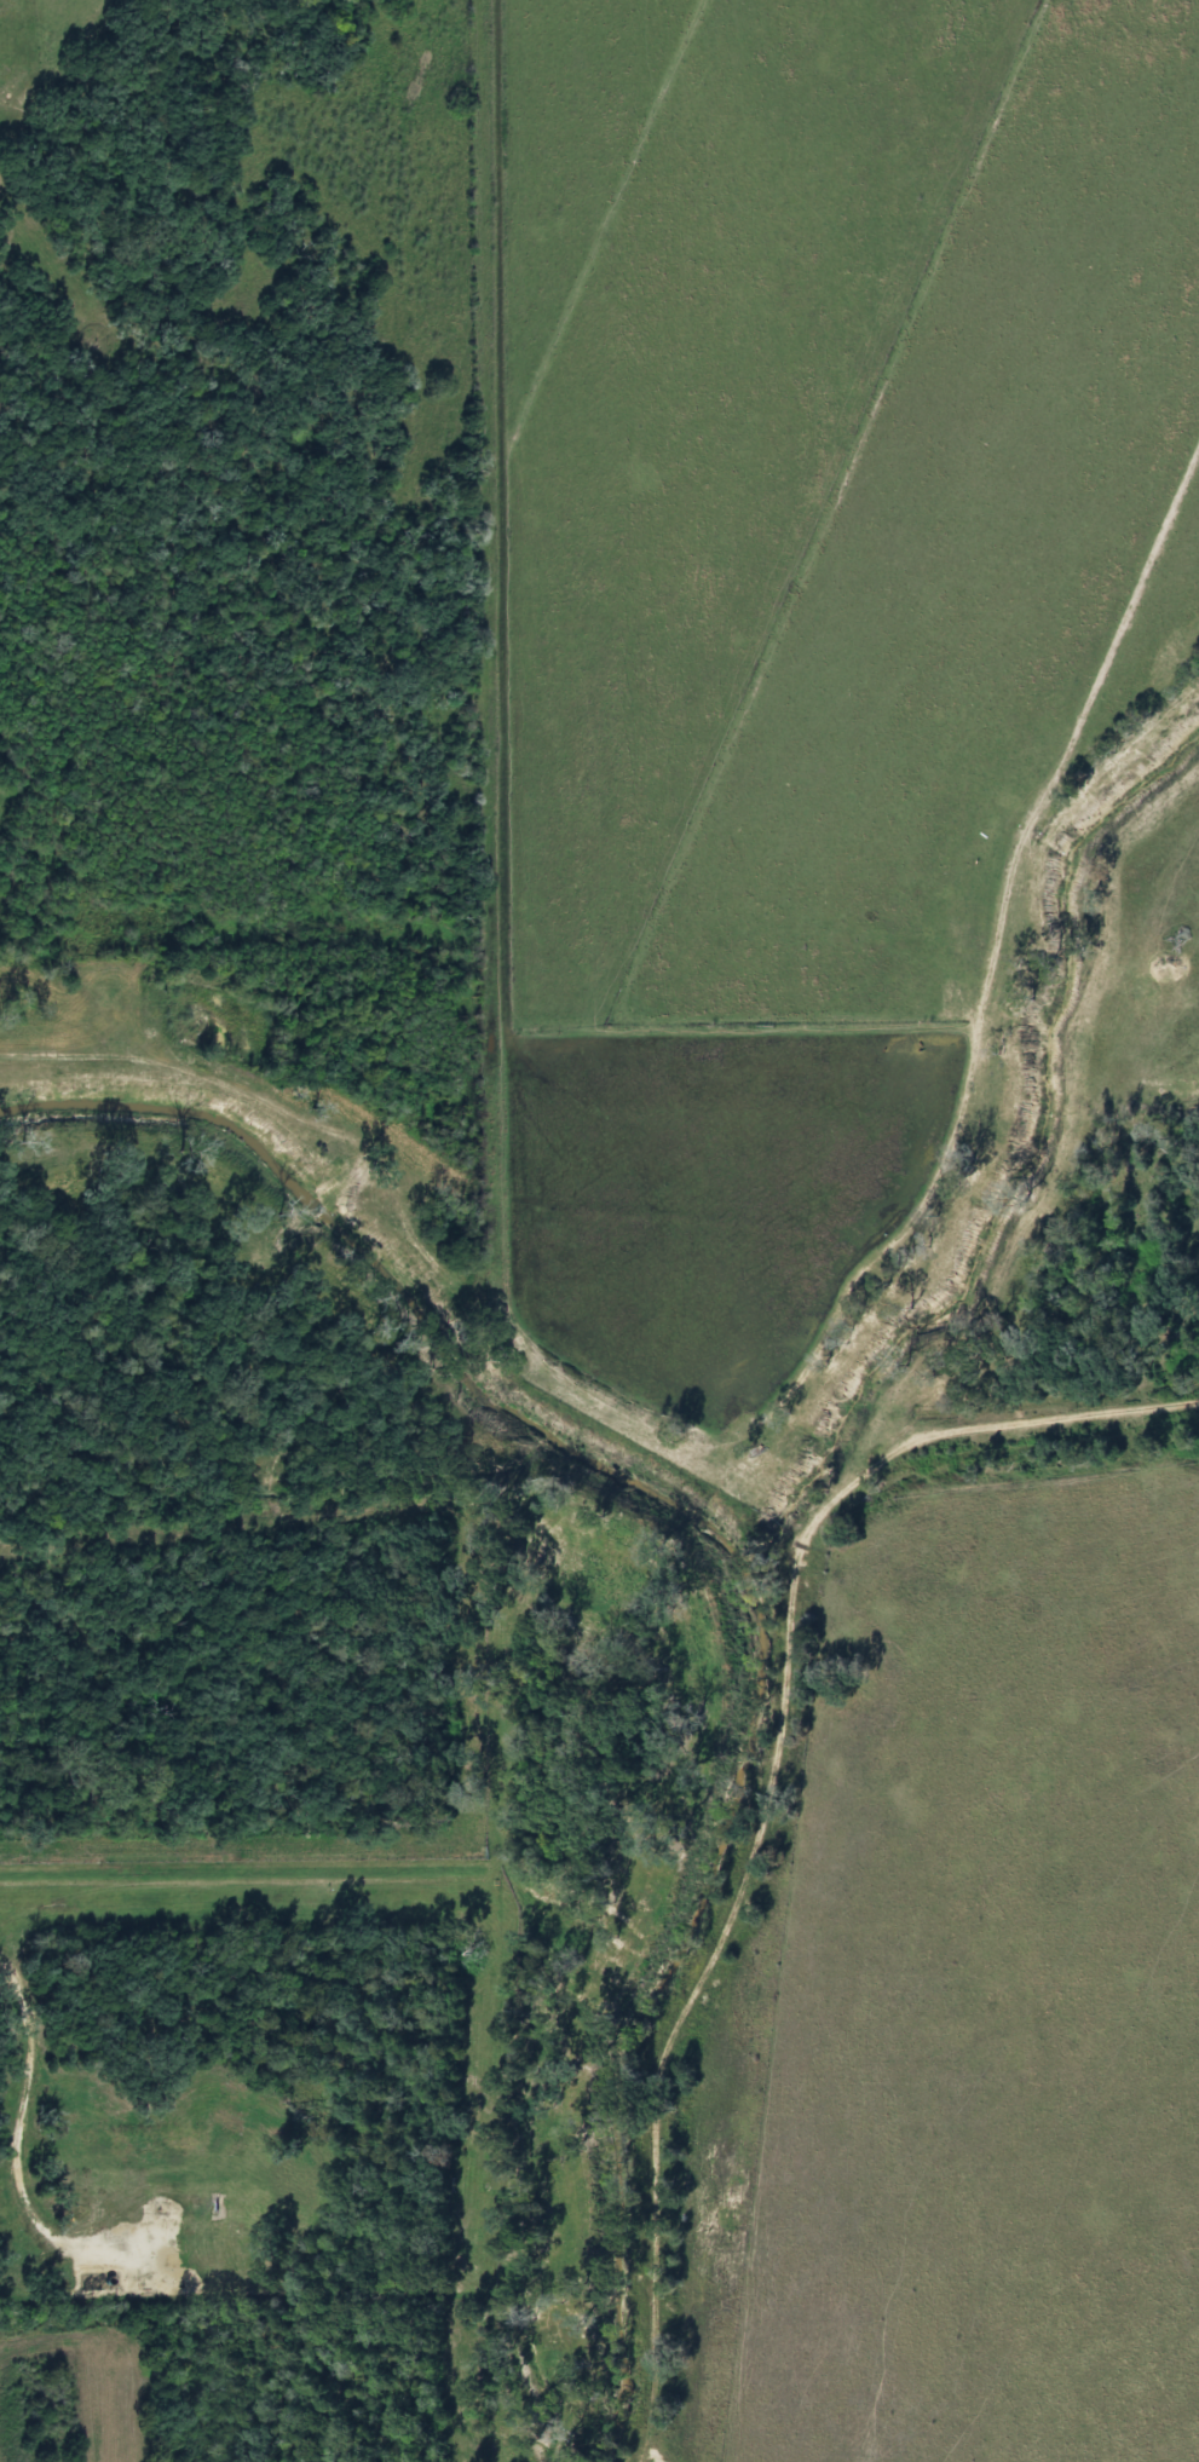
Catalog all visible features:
road: (1090, 1432)
road: (10, 2163)

